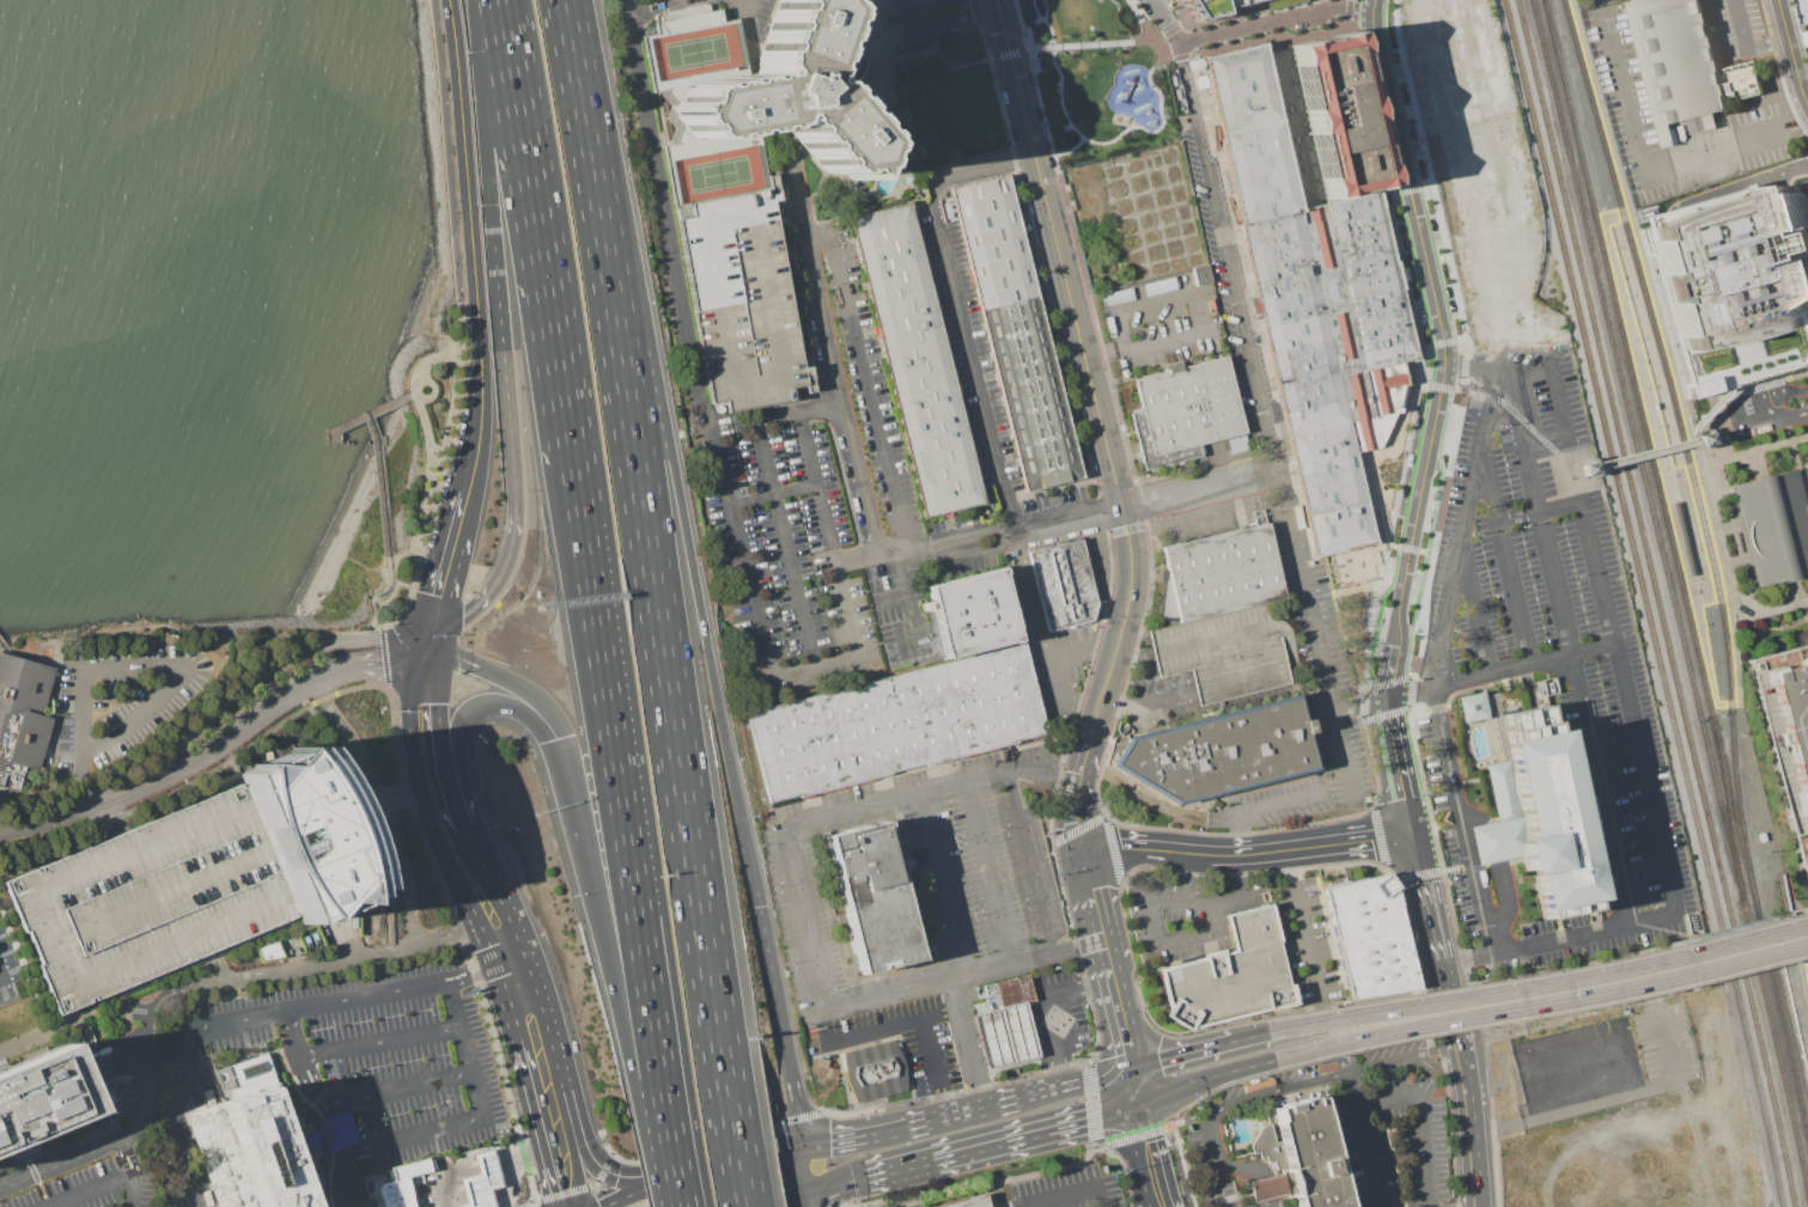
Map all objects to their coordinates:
building: (1230, 2)
parking garage: (1230, 2)
road: (996, 6)
building: (1806, 6)
parking lot: (1806, 6)
building: (1205, 7)
road: (1349, 7)
road: (895, 10)
road: (1043, 10)
road: (1371, 10)
road: (744, 12)
road: (1224, 14)
building: (688, 18)
road: (1346, 19)
road: (1139, 20)
road: (1164, 20)
road: (1274, 20)
road: (1795, 22)
road: (1371, 24)
road: (1019, 25)
road: (935, 26)
parking lot: (1737, 26)
road: (1171, 28)
street lamp: (1082, 41)
road: (1090, 44)
road: (1743, 45)
park: (693, 51)
road: (1006, 54)
street lamp: (1031, 54)
road: (1790, 54)
road: (1179, 56)
road: (1164, 59)
building: (1669, 62)
road: (507, 69)
park: (1096, 77)
park: (437, 91)
building: (779, 92)
road: (850, 98)
road: (836, 102)
road: (1369, 103)
road: (582, 105)
road: (1041, 111)
building: (1337, 114)
road: (1301, 117)
road: (483, 123)
road: (818, 124)
road: (1396, 138)
road: (1095, 142)
building: (699, 144)
road: (1070, 150)
road: (1642, 159)
road: (1296, 161)
park: (716, 173)
road: (1429, 175)
road: (1425, 185)
road: (1407, 189)
road: (1392, 193)
road: (1313, 205)
building: (682, 209)
road: (1621, 214)
road: (665, 217)
railway: (1625, 226)
road: (1246, 231)
road: (1230, 233)
road: (470, 242)
road: (1224, 256)
road: (1243, 260)
road: (1401, 273)
building: (1734, 284)
road: (1327, 289)
road: (1332, 291)
road: (1191, 294)
road: (1252, 297)
road: (548, 300)
building: (739, 300)
parking lot: (739, 300)
building: (1314, 303)
road: (956, 305)
road: (1254, 306)
road: (1435, 306)
road: (1807, 317)
road: (1256, 318)
parking lot: (1162, 323)
road: (458, 329)
road: (1382, 329)
road: (1769, 330)
building: (1015, 333)
road: (1663, 335)
road: (1255, 337)
road: (1443, 342)
road: (1417, 347)
road: (830, 350)
road: (1097, 352)
railway: (1625, 352)
road: (1751, 355)
road: (431, 358)
building: (915, 360)
road: (1084, 360)
road: (1465, 370)
road: (1765, 371)
road: (1530, 372)
road: (1795, 372)
parking lot: (870, 376)
road: (865, 382)
road: (415, 384)
road: (1441, 386)
road: (1752, 386)
road: (1784, 391)
road: (412, 394)
road: (1438, 397)
road: (783, 408)
building: (1186, 412)
road: (1704, 412)
road: (1771, 413)
road: (1515, 414)
road: (774, 417)
road: (1712, 421)
pier: (342, 425)
road: (1565, 428)
road: (425, 437)
road: (1694, 440)
road: (1716, 441)
building: (1236, 444)
road: (1703, 446)
railway: (1636, 449)
road: (1643, 453)
road: (1741, 453)
road: (378, 459)
road: (1795, 461)
road: (511, 462)
road: (1694, 465)
road: (1688, 467)
road: (1588, 468)
road: (1593, 469)
park: (401, 470)
road: (1565, 471)
road: (1806, 481)
road: (817, 488)
road: (771, 495)
road: (1418, 499)
road: (1145, 502)
road: (1436, 505)
road: (461, 514)
road: (1393, 518)
building: (1773, 526)
road: (1461, 528)
road: (1715, 531)
road: (1436, 532)
building: (1680, 537)
road: (783, 543)
road: (1426, 543)
road: (415, 544)
road: (925, 545)
road: (1410, 548)
parking lot: (786, 551)
road: (737, 554)
road: (1758, 554)
road: (688, 556)
road: (390, 557)
road: (1505, 561)
building: (1218, 573)
road: (389, 583)
building: (1061, 584)
road: (391, 590)
road: (439, 595)
road: (1030, 595)
road: (887, 596)
road: (1730, 598)
road: (1719, 599)
railway: (1643, 603)
railway: (1656, 603)
parking lot: (912, 604)
road: (1772, 608)
road: (906, 609)
road: (1396, 610)
building: (970, 612)
road: (1474, 614)
road: (1309, 616)
road: (1562, 617)
road: (187, 632)
road: (1374, 632)
road: (659, 634)
road: (1372, 636)
traffic signals: (426, 644)
pier: (2, 645)
building: (1229, 650)
parking garage: (1229, 650)
road: (1735, 653)
road: (847, 654)
road: (1132, 658)
road: (369, 660)
road: (1046, 664)
parking lot: (1609, 664)
road: (268, 666)
road: (112, 669)
road: (1498, 670)
parking lot: (1065, 671)
road: (416, 672)
railway: (1728, 672)
road: (432, 673)
road: (1388, 675)
road: (503, 678)
road: (1387, 682)
railway: (1715, 688)
road: (1411, 691)
parking lot: (124, 700)
road: (272, 701)
road: (1146, 701)
road: (1729, 703)
road: (1362, 705)
building: (1471, 707)
railway: (1740, 707)
parking lot: (1334, 708)
road: (1384, 713)
building: (22, 717)
railway: (1710, 717)
road: (461, 721)
building: (895, 723)
building: (1786, 734)
traffic signals: (555, 739)
building: (1219, 751)
road: (1341, 751)
road: (195, 757)
parking lot: (1439, 761)
road: (1082, 763)
road: (1395, 767)
road: (444, 768)
road: (616, 768)
road: (1645, 784)
road: (388, 801)
road: (1265, 807)
road: (409, 810)
road: (78, 812)
railway: (1733, 812)
railway: (1727, 813)
road: (425, 816)
road: (845, 816)
road: (1472, 816)
building: (1535, 821)
road: (1462, 822)
building: (310, 831)
traffic signals: (1411, 835)
road: (1075, 836)
road: (1493, 840)
road: (1334, 843)
road: (1150, 849)
traffic signals: (1078, 852)
road: (1241, 853)
parking lot: (925, 860)
road: (1030, 864)
road: (988, 874)
parking lot: (1465, 882)
road: (946, 885)
road: (1423, 891)
road: (1187, 892)
road: (1088, 896)
building: (150, 897)
parking lot: (150, 897)
building: (871, 897)
road: (1505, 901)
road: (596, 908)
road: (1798, 910)
parking lot: (1187, 913)
road: (1307, 922)
road: (1727, 928)
road: (1201, 934)
building: (1370, 935)
road: (518, 945)
building: (268, 950)
road: (497, 961)
road: (1104, 961)
road: (213, 968)
road: (1554, 968)
road: (453, 973)
building: (1806, 973)
building: (1231, 974)
road: (0, 976)
road: (961, 976)
road: (0, 979)
road: (1619, 980)
road: (457, 982)
parking lot: (7, 983)
road: (773, 983)
road: (178, 990)
building: (1013, 992)
road: (888, 994)
road: (1447, 996)
road: (1045, 1010)
road: (1331, 1013)
road: (1347, 1018)
railway: (1780, 1018)
road: (77, 1019)
road: (229, 1019)
road: (1268, 1019)
road: (1120, 1024)
road: (878, 1031)
building: (1004, 1035)
road: (1351, 1037)
road: (1235, 1040)
road: (381, 1042)
parking lot: (927, 1044)
railway: (1776, 1050)
road: (1091, 1054)
road: (468, 1055)
road: (1167, 1057)
road: (1404, 1059)
road: (521, 1063)
road: (1346, 1063)
road: (905, 1066)
traffic signals: (1131, 1069)
building: (873, 1071)
road: (931, 1071)
road: (1203, 1077)
road: (1096, 1080)
parking lot: (322, 1084)
road: (918, 1084)
road: (400, 1086)
road: (506, 1089)
road: (1133, 1089)
road: (1279, 1091)
road: (846, 1092)
building: (42, 1096)
road: (1039, 1096)
road: (1609, 1099)
road: (329, 1103)
road: (795, 1104)
road: (1089, 1104)
traffic signals: (1137, 1108)
parking lot: (1356, 1108)
road: (802, 1116)
road: (372, 1118)
road: (1187, 1118)
road: (1424, 1120)
road: (774, 1126)
road: (1469, 1126)
building: (298, 1128)
road: (909, 1128)
railway: (1806, 1129)
road: (1130, 1130)
building: (335, 1132)
road: (731, 1133)
road: (413, 1135)
road: (735, 1135)
road: (1133, 1135)
road: (568, 1136)
road: (669, 1140)
road: (645, 1142)
road: (604, 1144)
road: (1002, 1145)
traffic signals: (804, 1148)
road: (589, 1152)
road: (132, 1153)
building: (246, 1153)
road: (1146, 1157)
building: (1298, 1157)
road: (737, 1159)
road: (658, 1160)
road: (1219, 1160)
road: (479, 1163)
road: (440, 1164)
road: (1177, 1166)
building: (409, 1169)
road: (409, 1169)
road: (1258, 1170)
road: (808, 1171)
building: (481, 1181)
gas station: (481, 1181)
road: (512, 1181)
road: (976, 1184)
parking lot: (102, 1185)
road: (371, 1185)
road: (839, 1187)
road: (95, 1188)
road: (138, 1188)
road: (579, 1188)
road: (637, 1190)
parking lot: (1069, 1191)
building: (396, 1193)
traffic signals: (812, 1194)
road: (1065, 1194)
road: (781, 1200)
road: (812, 1200)
building: (967, 1202)

